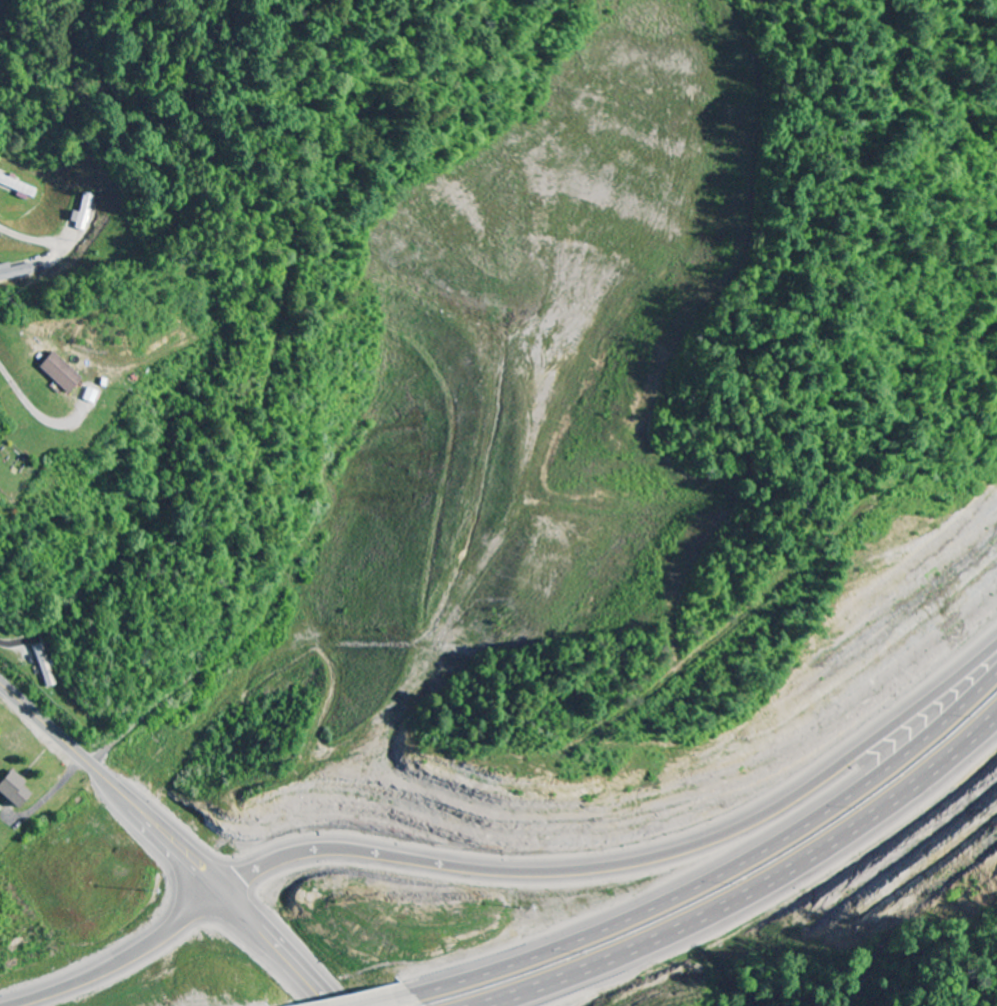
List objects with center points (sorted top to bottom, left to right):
building: (18, 186)
building: (81, 212)
building: (14, 271)
building: (58, 372)
building: (90, 396)
road: (24, 400)
building: (42, 665)
building: (11, 789)
road: (167, 842)
road: (630, 864)
road: (721, 877)
road: (752, 894)
road: (126, 960)
road: (387, 999)

